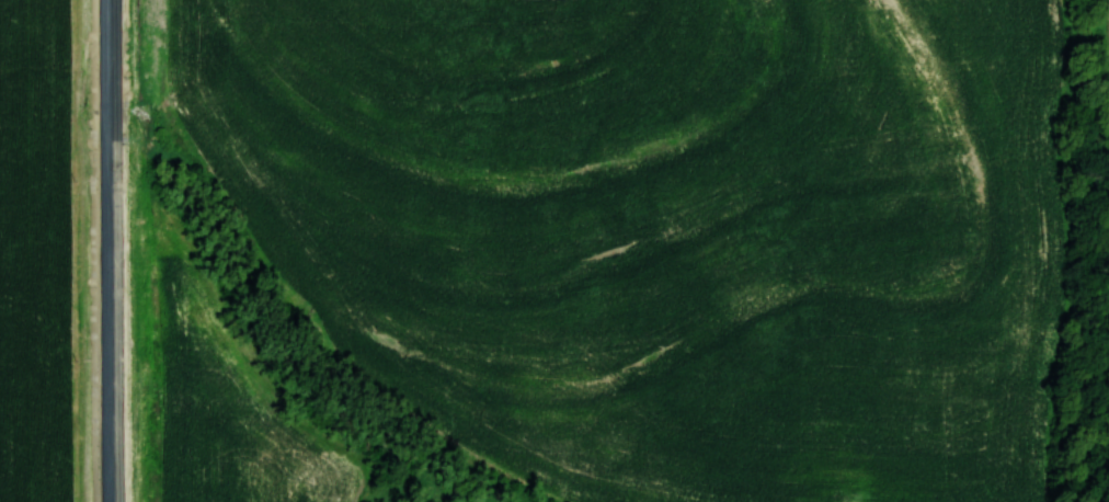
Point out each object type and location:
road: (111, 251)
crop: (38, 254)

